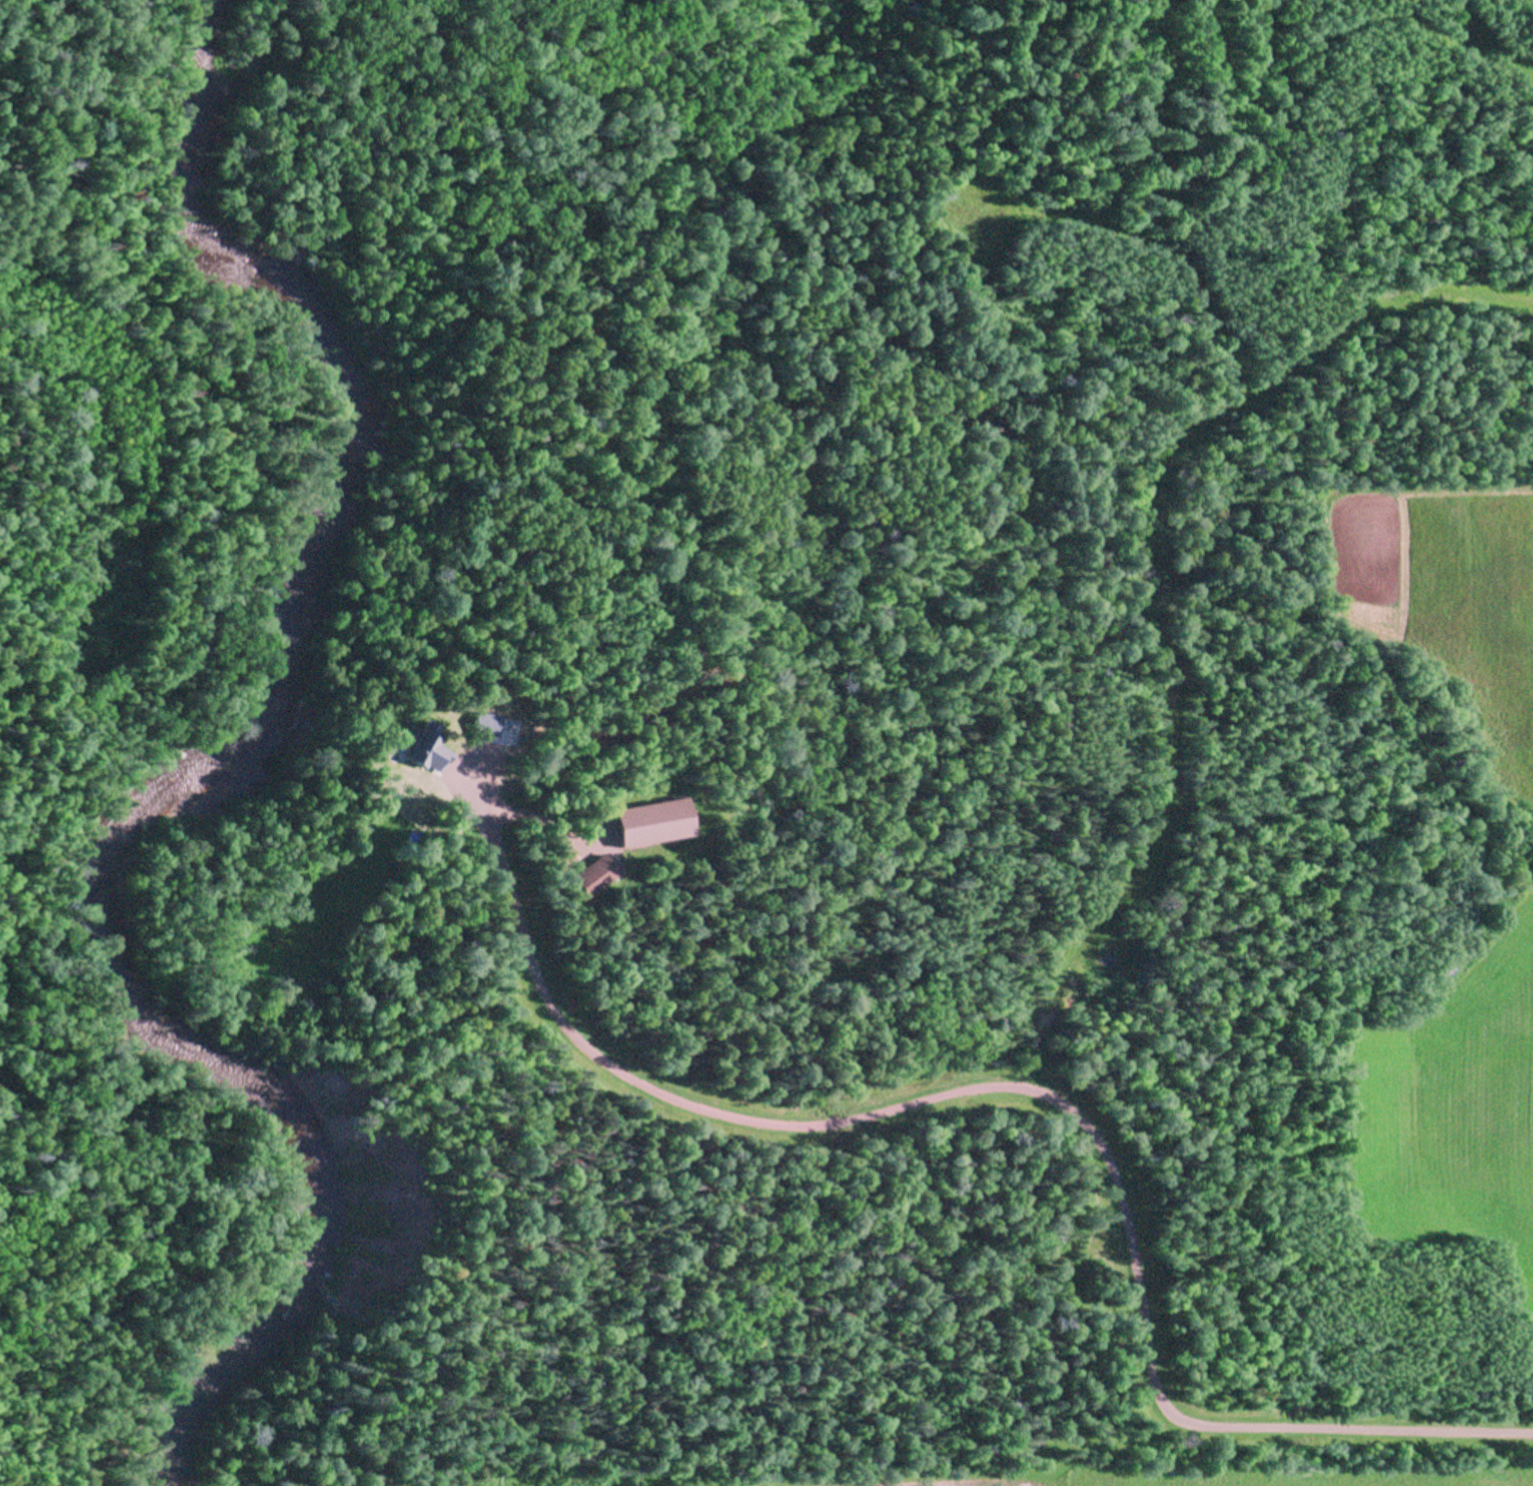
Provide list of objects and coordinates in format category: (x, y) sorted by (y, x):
crop: (1450, 598)
building: (479, 721)
building: (412, 742)
road: (453, 762)
river: (223, 779)
building: (647, 819)
building: (587, 874)
road: (1041, 1096)
crop: (1447, 1106)

